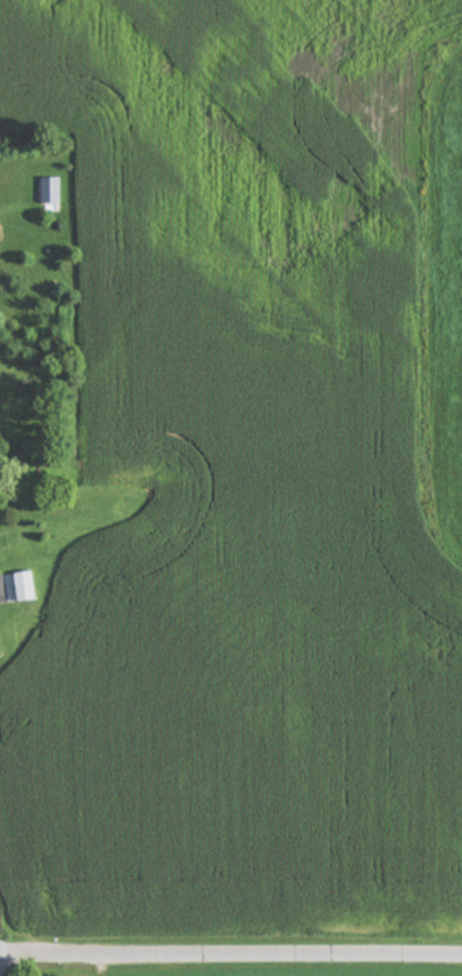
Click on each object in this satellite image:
building: (2, 554)
road: (230, 962)

